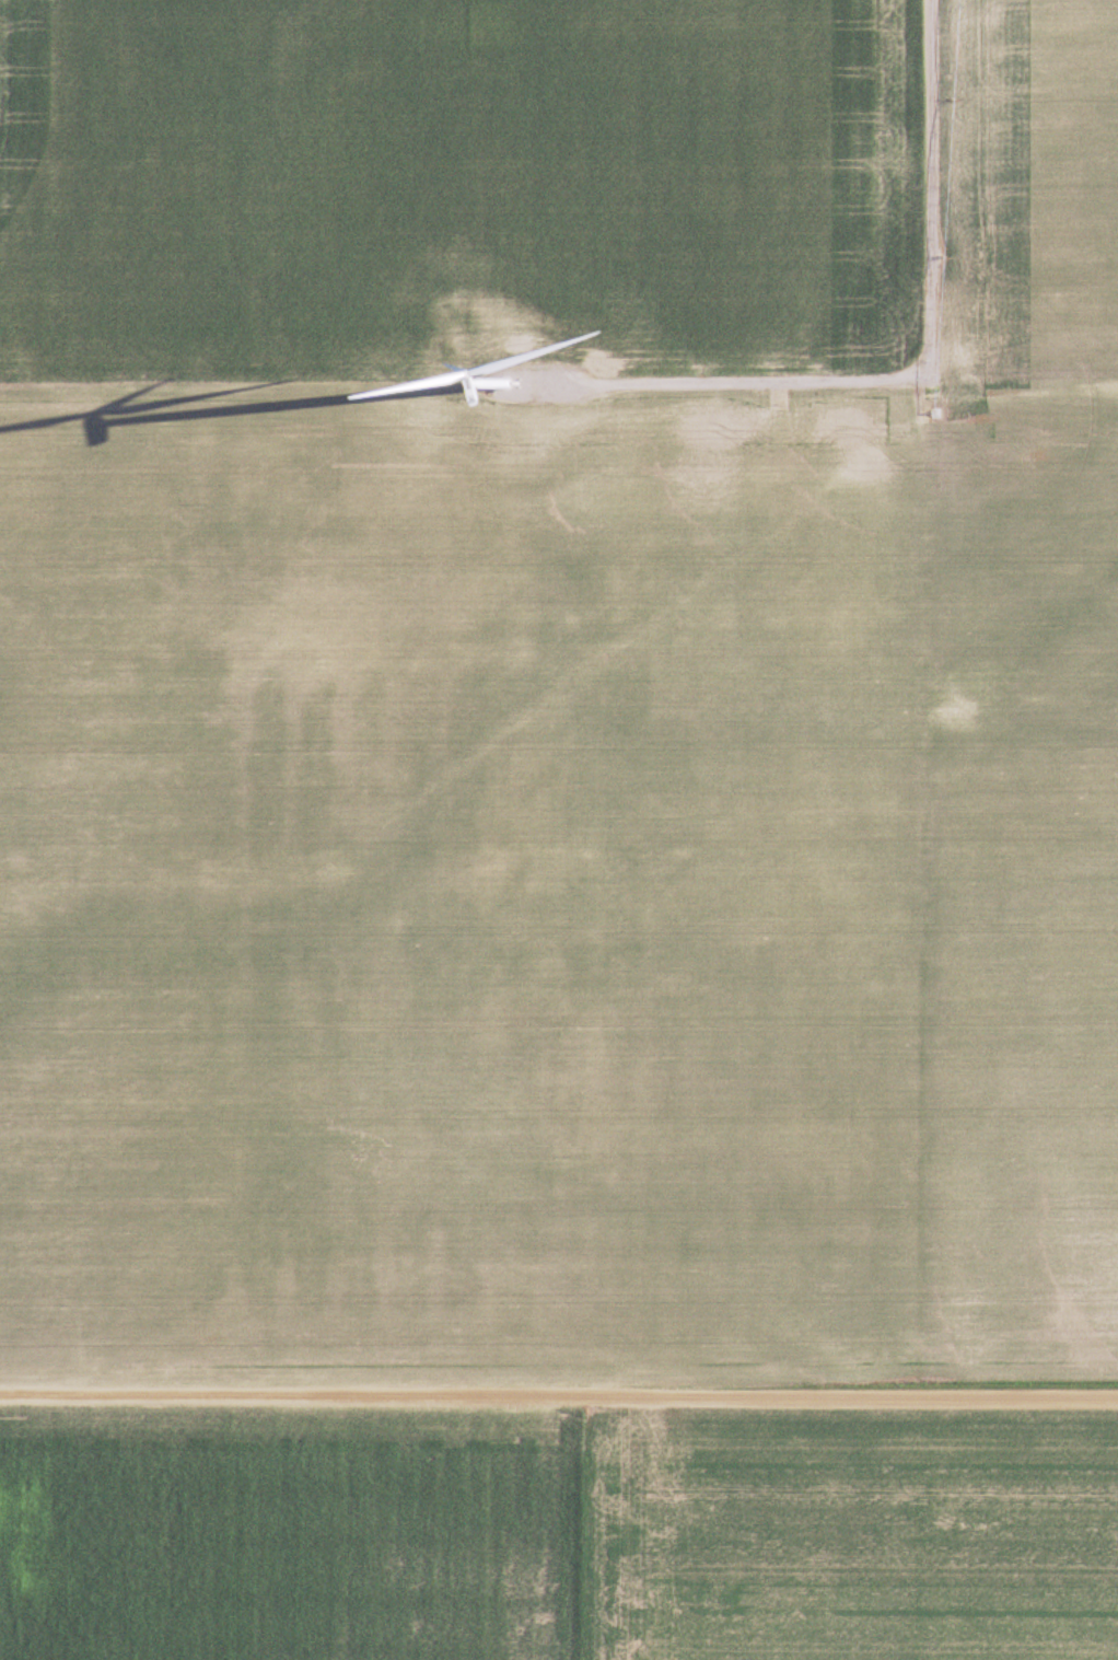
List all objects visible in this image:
road: (917, 352)
wind turbine: (505, 385)
road: (559, 1400)

